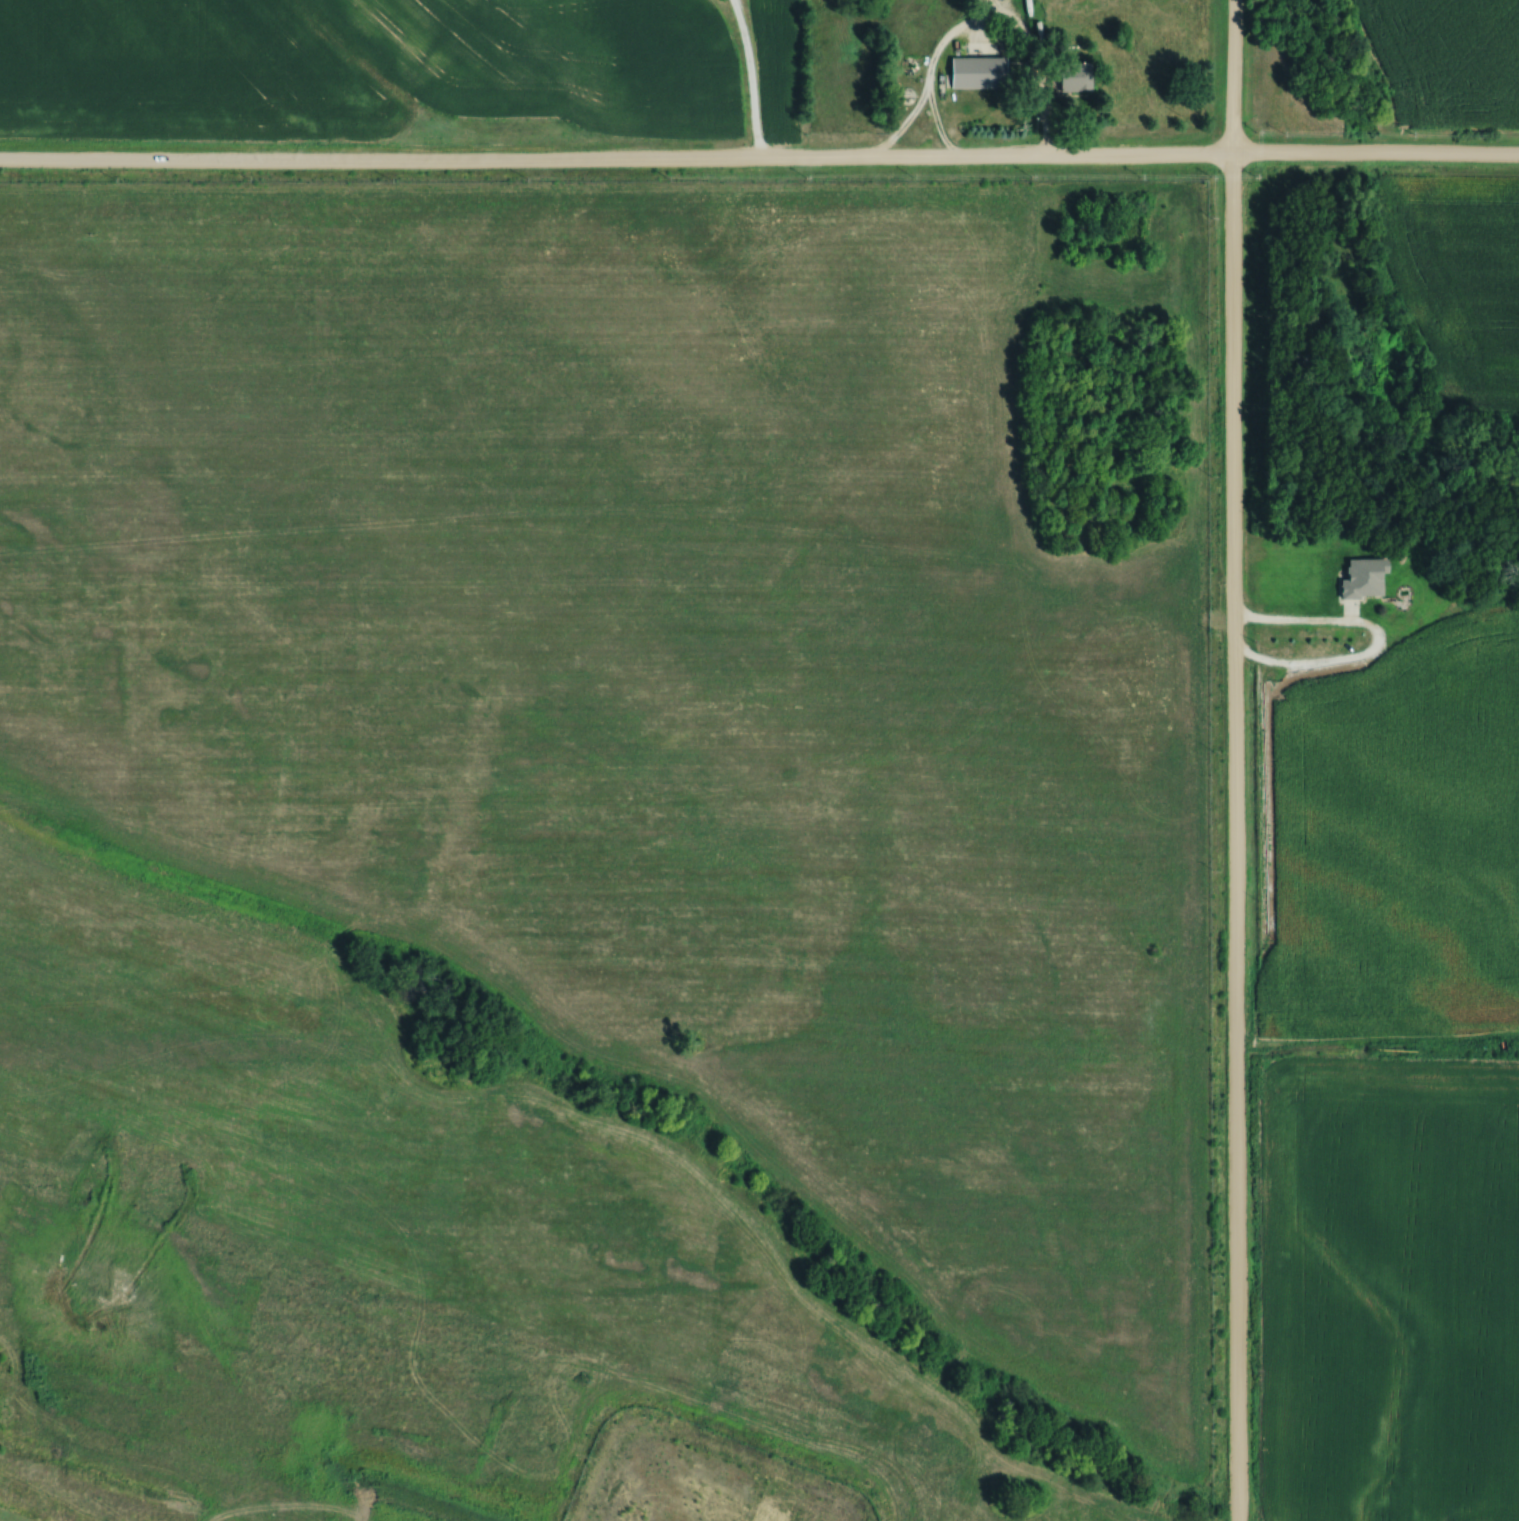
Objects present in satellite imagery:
building: (979, 0)
road: (984, 18)
building: (984, 71)
building: (1076, 75)
road: (748, 80)
road: (759, 162)
building: (1369, 578)
road: (1373, 638)
road: (1234, 760)
road: (1333, 1044)

